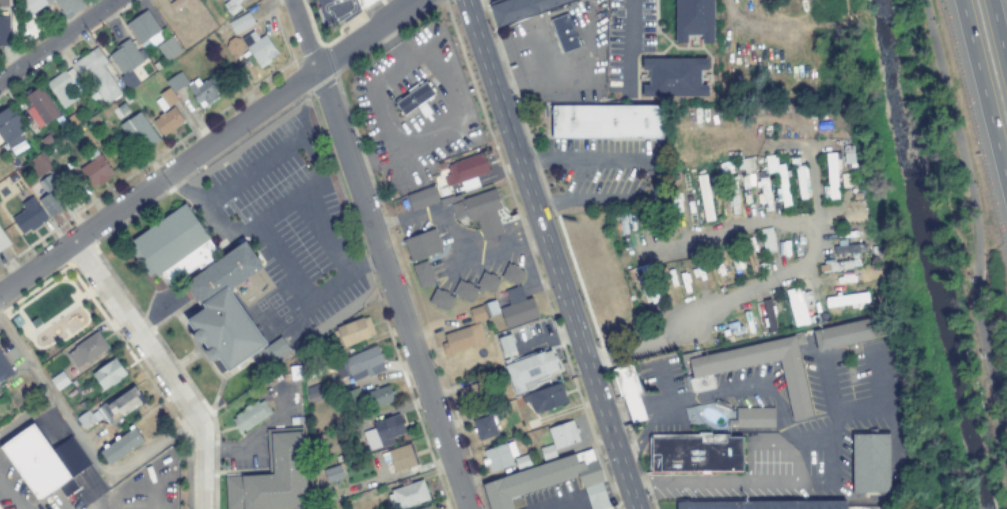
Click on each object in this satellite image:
building: (3, 3)
building: (364, 3)
building: (184, 4)
building: (71, 5)
building: (232, 5)
building: (520, 9)
building: (31, 15)
building: (694, 19)
building: (241, 22)
street lamp: (934, 23)
building: (145, 27)
building: (4, 30)
building: (564, 33)
road: (53, 37)
road: (998, 37)
building: (169, 48)
building: (261, 48)
building: (128, 62)
building: (157, 65)
building: (97, 76)
building: (674, 77)
building: (176, 81)
building: (63, 86)
building: (203, 91)
road: (983, 94)
building: (128, 98)
building: (166, 99)
building: (415, 100)
building: (40, 107)
building: (123, 108)
building: (167, 121)
building: (606, 121)
building: (10, 127)
building: (140, 131)
road: (207, 146)
street lamp: (306, 159)
building: (95, 169)
building: (466, 171)
building: (777, 176)
building: (832, 176)
building: (13, 178)
street lamp: (975, 187)
building: (49, 196)
building: (764, 196)
building: (422, 197)
building: (450, 198)
building: (704, 198)
building: (481, 212)
building: (29, 216)
building: (852, 217)
road: (976, 232)
building: (3, 240)
building: (767, 241)
building: (422, 245)
building: (174, 247)
building: (848, 249)
river: (921, 253)
road: (375, 254)
road: (549, 254)
building: (223, 273)
building: (512, 273)
building: (423, 274)
street lamp: (323, 278)
street lamp: (969, 278)
building: (464, 287)
building: (441, 299)
building: (846, 300)
building: (799, 306)
road: (70, 307)
building: (517, 308)
building: (483, 311)
park: (53, 312)
building: (17, 321)
building: (35, 323)
building: (225, 330)
building: (354, 332)
building: (848, 333)
building: (463, 338)
building: (506, 344)
building: (87, 348)
building: (275, 349)
street lamp: (980, 356)
building: (361, 363)
road: (159, 367)
building: (4, 368)
building: (530, 370)
building: (296, 372)
building: (313, 373)
building: (108, 374)
building: (703, 376)
building: (59, 381)
building: (479, 387)
building: (0, 390)
building: (628, 391)
building: (315, 392)
building: (350, 396)
building: (380, 396)
building: (545, 397)
building: (121, 404)
building: (251, 415)
building: (752, 418)
building: (86, 419)
building: (487, 423)
building: (518, 427)
building: (384, 432)
building: (563, 434)
street lamp: (996, 444)
building: (121, 445)
building: (547, 452)
building: (694, 453)
road: (145, 455)
building: (499, 456)
building: (400, 457)
building: (339, 458)
building: (524, 460)
building: (870, 463)
building: (37, 464)
building: (333, 473)
building: (273, 476)
building: (549, 481)
building: (408, 495)
building: (762, 505)
building: (426, 507)

